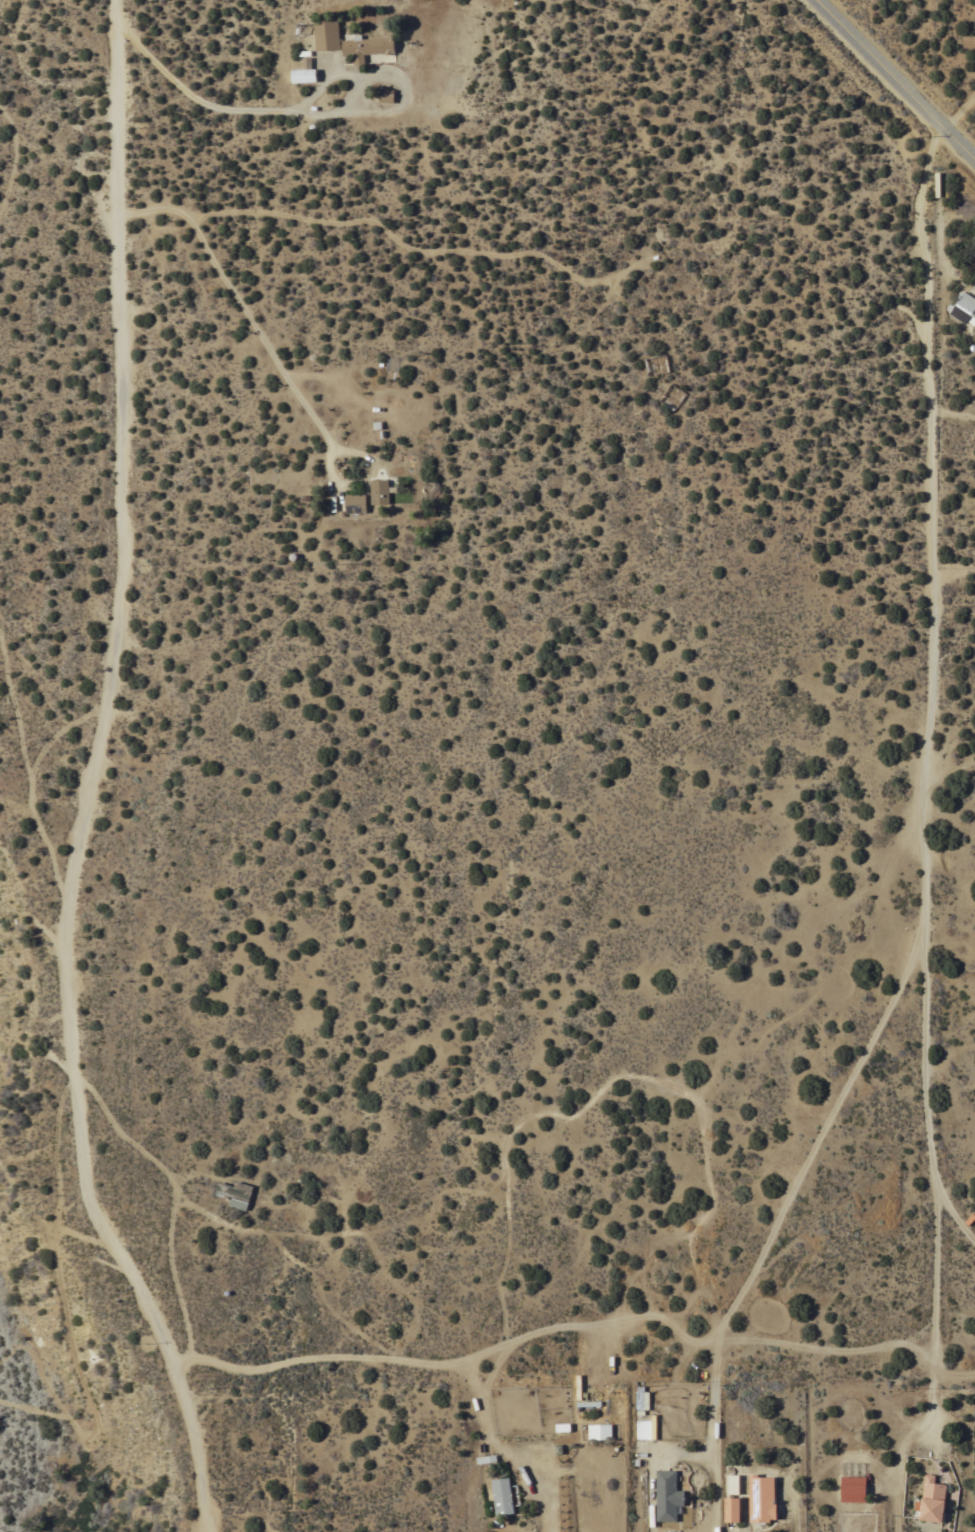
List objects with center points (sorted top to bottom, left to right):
building: (327, 35)
building: (367, 47)
building: (304, 72)
road: (896, 78)
road: (359, 85)
building: (386, 95)
road: (193, 96)
road: (959, 109)
road: (16, 158)
road: (411, 252)
road: (241, 301)
building: (963, 308)
building: (378, 491)
building: (355, 503)
road: (956, 567)
road: (62, 730)
road: (938, 762)
road: (29, 770)
road: (95, 778)
road: (826, 1129)
building: (235, 1193)
road: (170, 1202)
road: (956, 1206)
road: (554, 1328)
building: (638, 1401)
building: (587, 1403)
building: (645, 1430)
building: (599, 1431)
road: (713, 1437)
road: (502, 1449)
building: (852, 1488)
building: (501, 1494)
building: (667, 1495)
building: (732, 1498)
building: (761, 1498)
building: (931, 1500)
building: (650, 1514)

